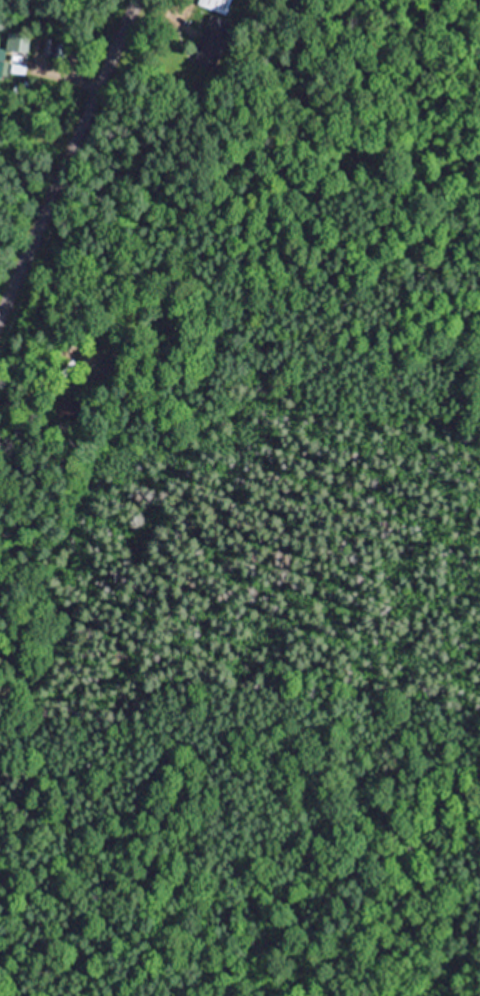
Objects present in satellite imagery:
building: (214, 4)
road: (155, 11)
building: (211, 41)
building: (13, 45)
road: (62, 152)

